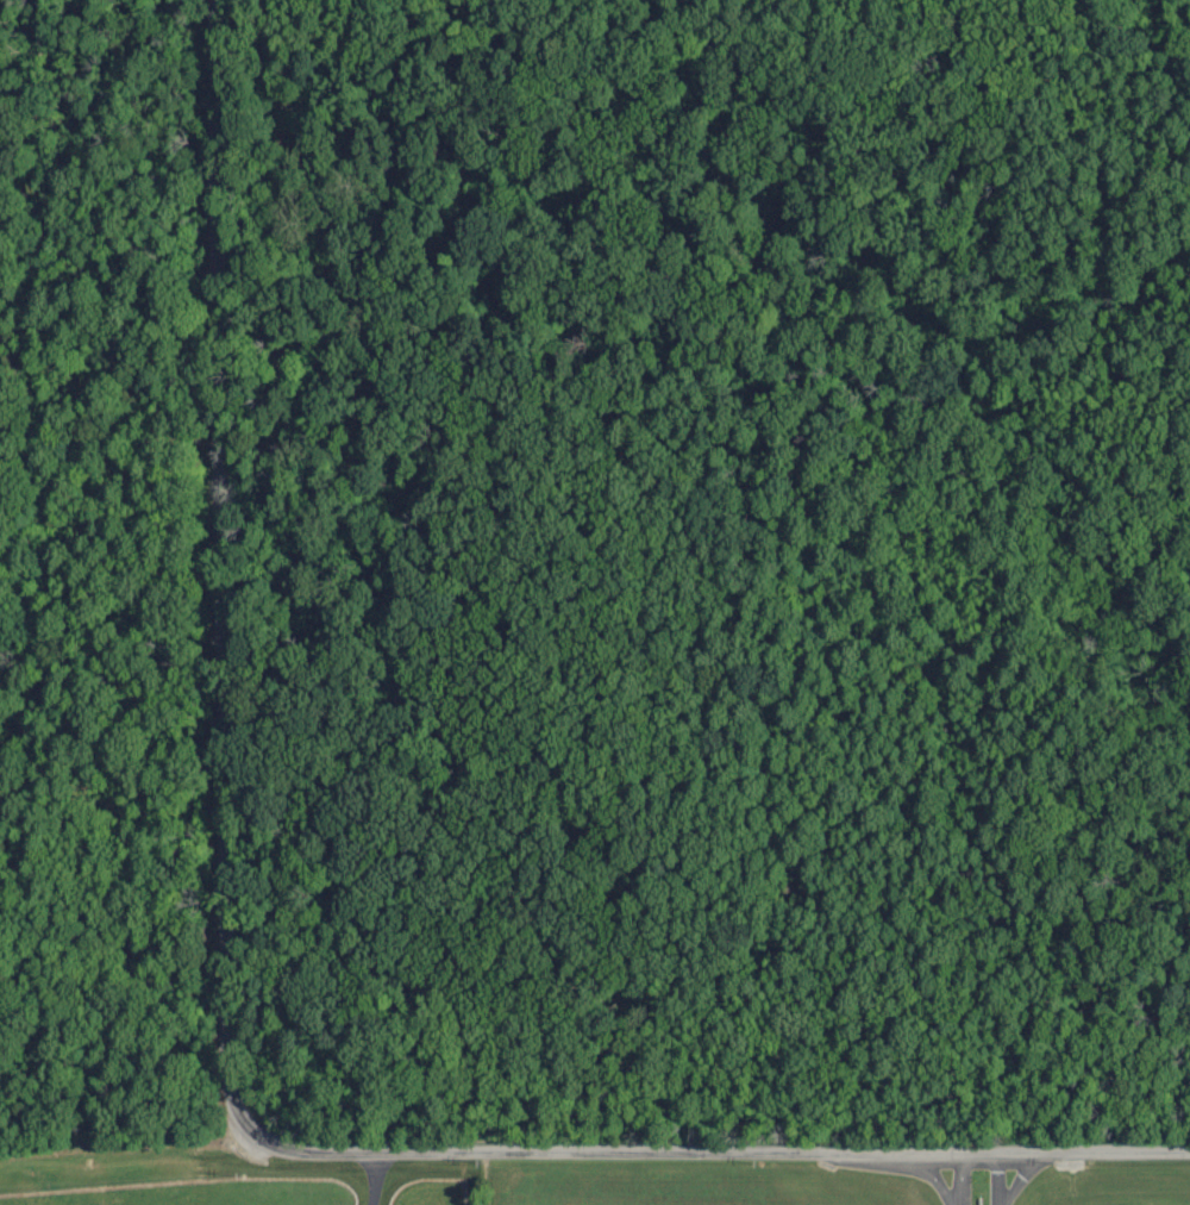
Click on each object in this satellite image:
road: (214, 575)
road: (732, 1151)
road: (371, 1178)
road: (977, 1179)

